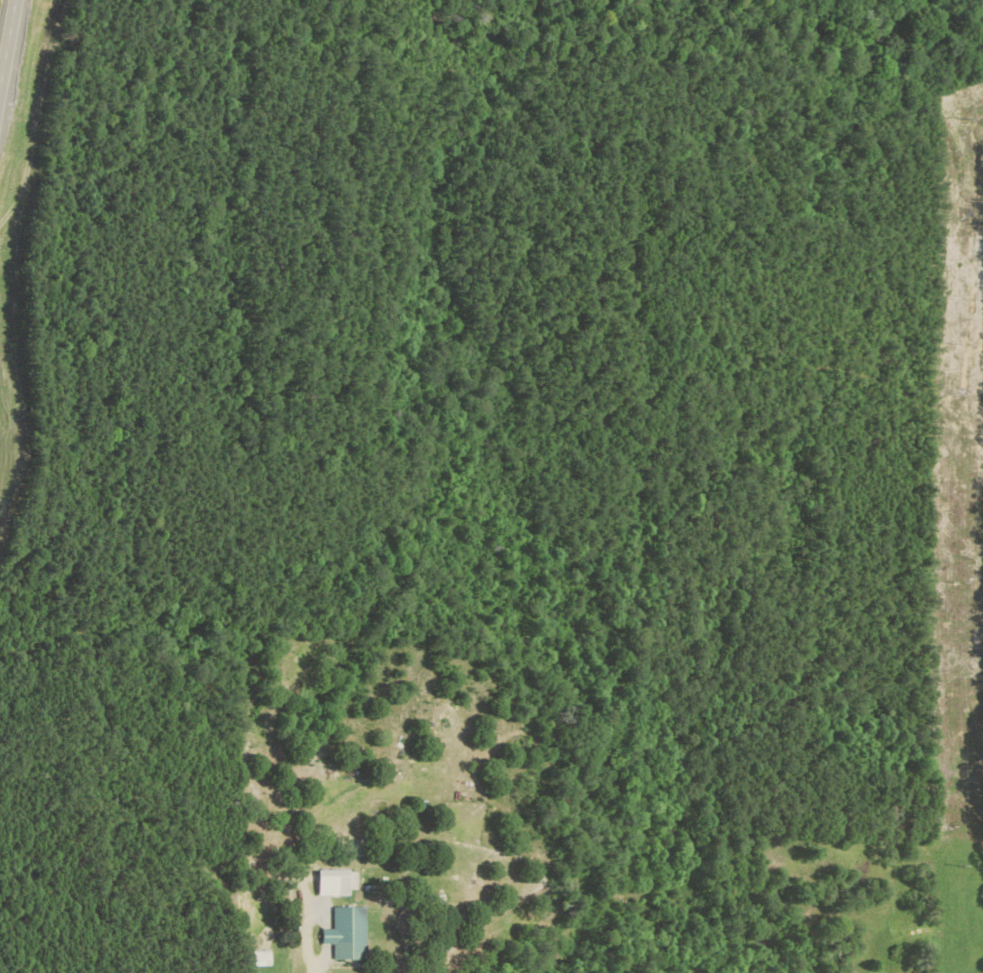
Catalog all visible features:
road: (520, 33)
road: (6, 45)
building: (335, 882)
building: (347, 933)
building: (260, 958)
road: (321, 971)

